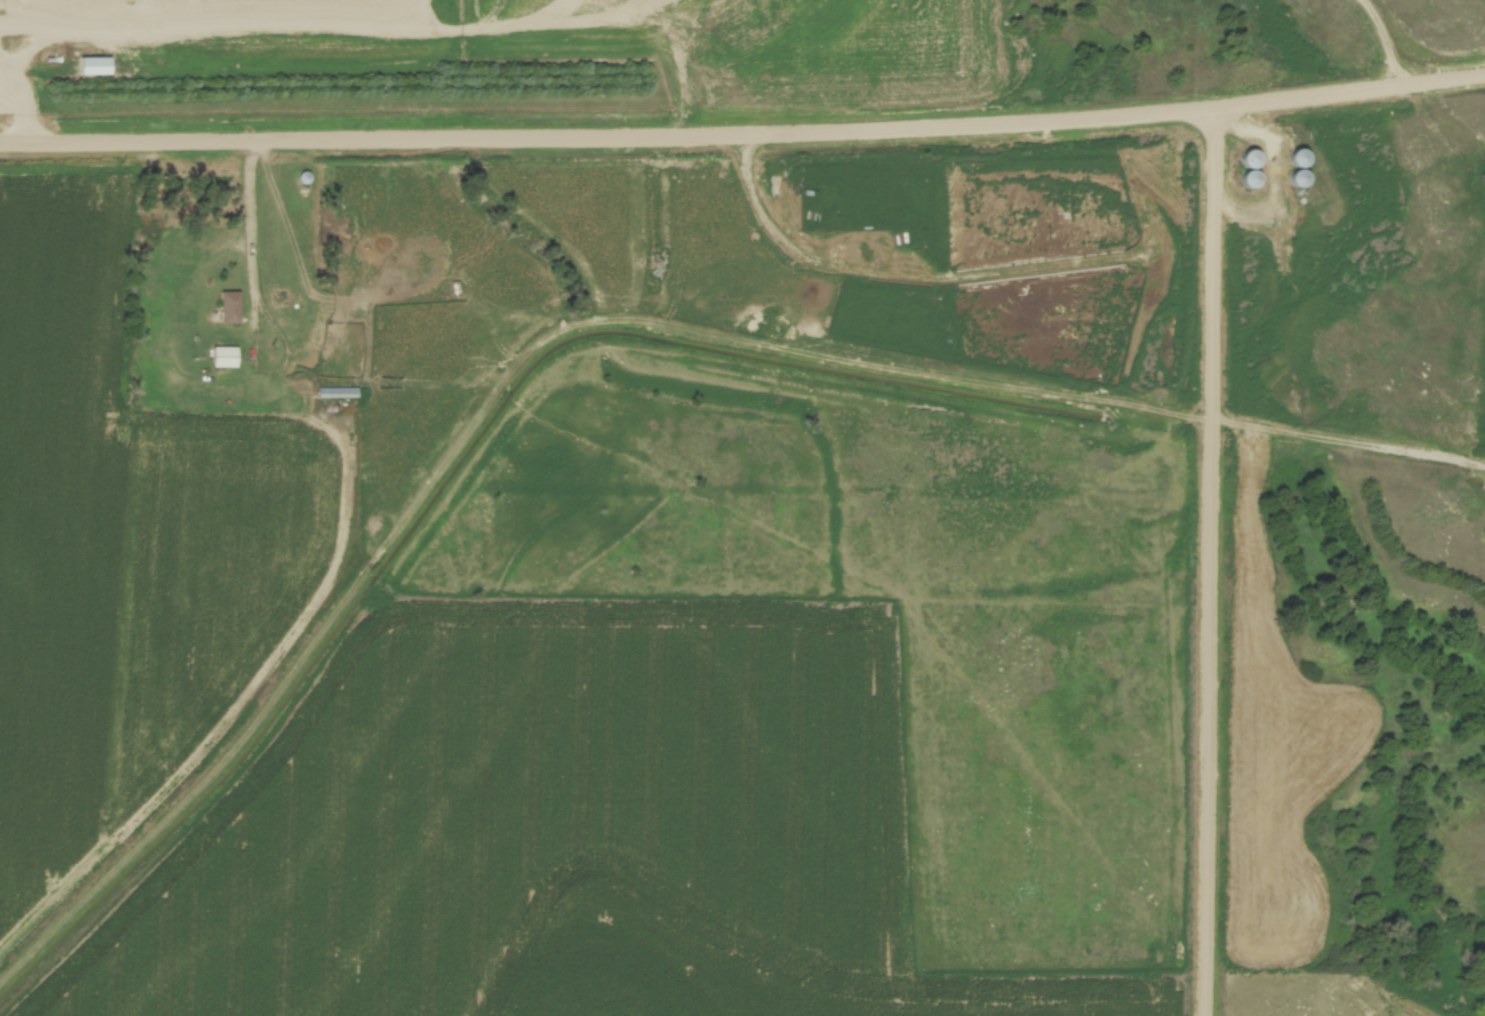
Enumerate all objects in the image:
road: (1386, 39)
road: (24, 107)
road: (744, 144)
building: (1253, 167)
building: (1303, 168)
building: (305, 177)
road: (255, 254)
building: (279, 297)
building: (231, 307)
building: (225, 358)
building: (338, 391)
road: (1210, 565)

